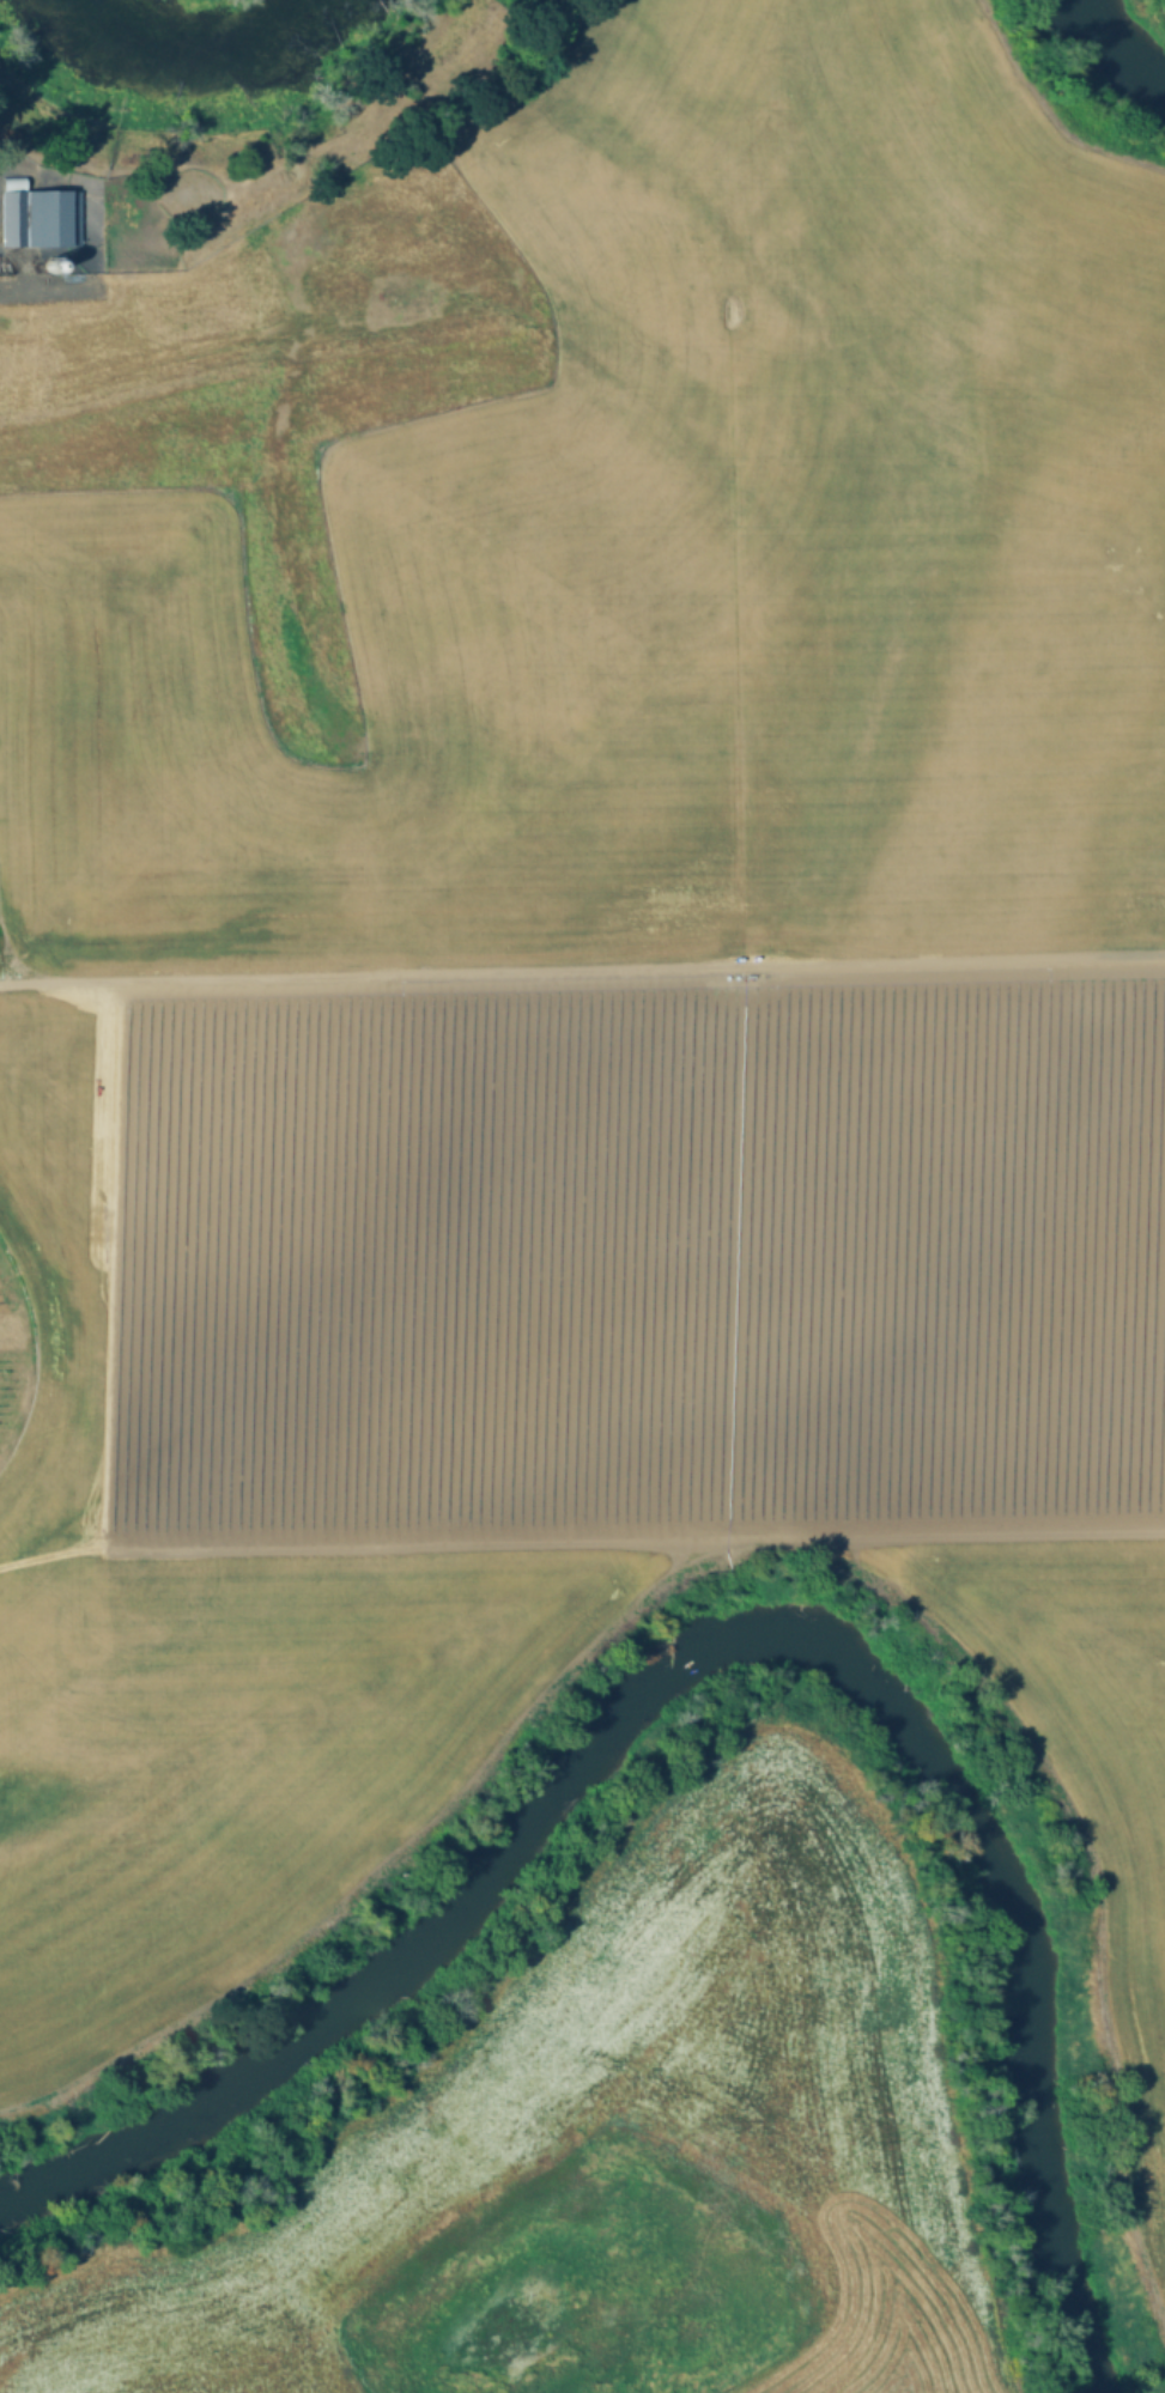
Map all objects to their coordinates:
river: (1145, 17)
park: (218, 77)
building: (38, 221)
building: (50, 271)
silo: (50, 271)
crop: (574, 950)
road: (582, 970)
river: (740, 1628)
crop: (625, 2137)
crop: (989, 2389)

